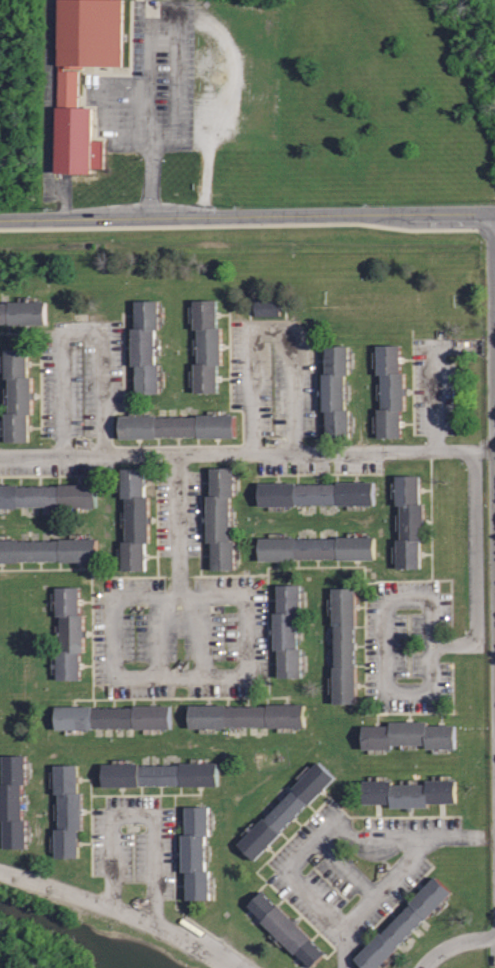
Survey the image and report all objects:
building: (88, 33)
road: (150, 35)
building: (74, 129)
road: (65, 198)
road: (247, 215)
building: (272, 309)
building: (23, 311)
road: (271, 326)
road: (81, 333)
building: (146, 347)
building: (208, 347)
building: (391, 391)
building: (336, 393)
building: (18, 396)
road: (435, 398)
building: (176, 425)
road: (247, 452)
building: (316, 493)
building: (48, 495)
building: (134, 519)
building: (222, 519)
building: (409, 521)
road: (179, 525)
building: (317, 548)
building: (48, 549)
road: (478, 566)
road: (387, 611)
building: (288, 630)
building: (69, 632)
building: (344, 645)
road: (237, 676)
building: (246, 715)
building: (112, 717)
building: (408, 735)
building: (159, 774)
building: (409, 793)
building: (13, 801)
building: (67, 810)
building: (286, 810)
road: (141, 814)
road: (357, 835)
road: (458, 838)
building: (196, 852)
road: (117, 908)
building: (404, 924)
building: (286, 929)
road: (461, 942)
road: (342, 945)
road: (426, 962)

